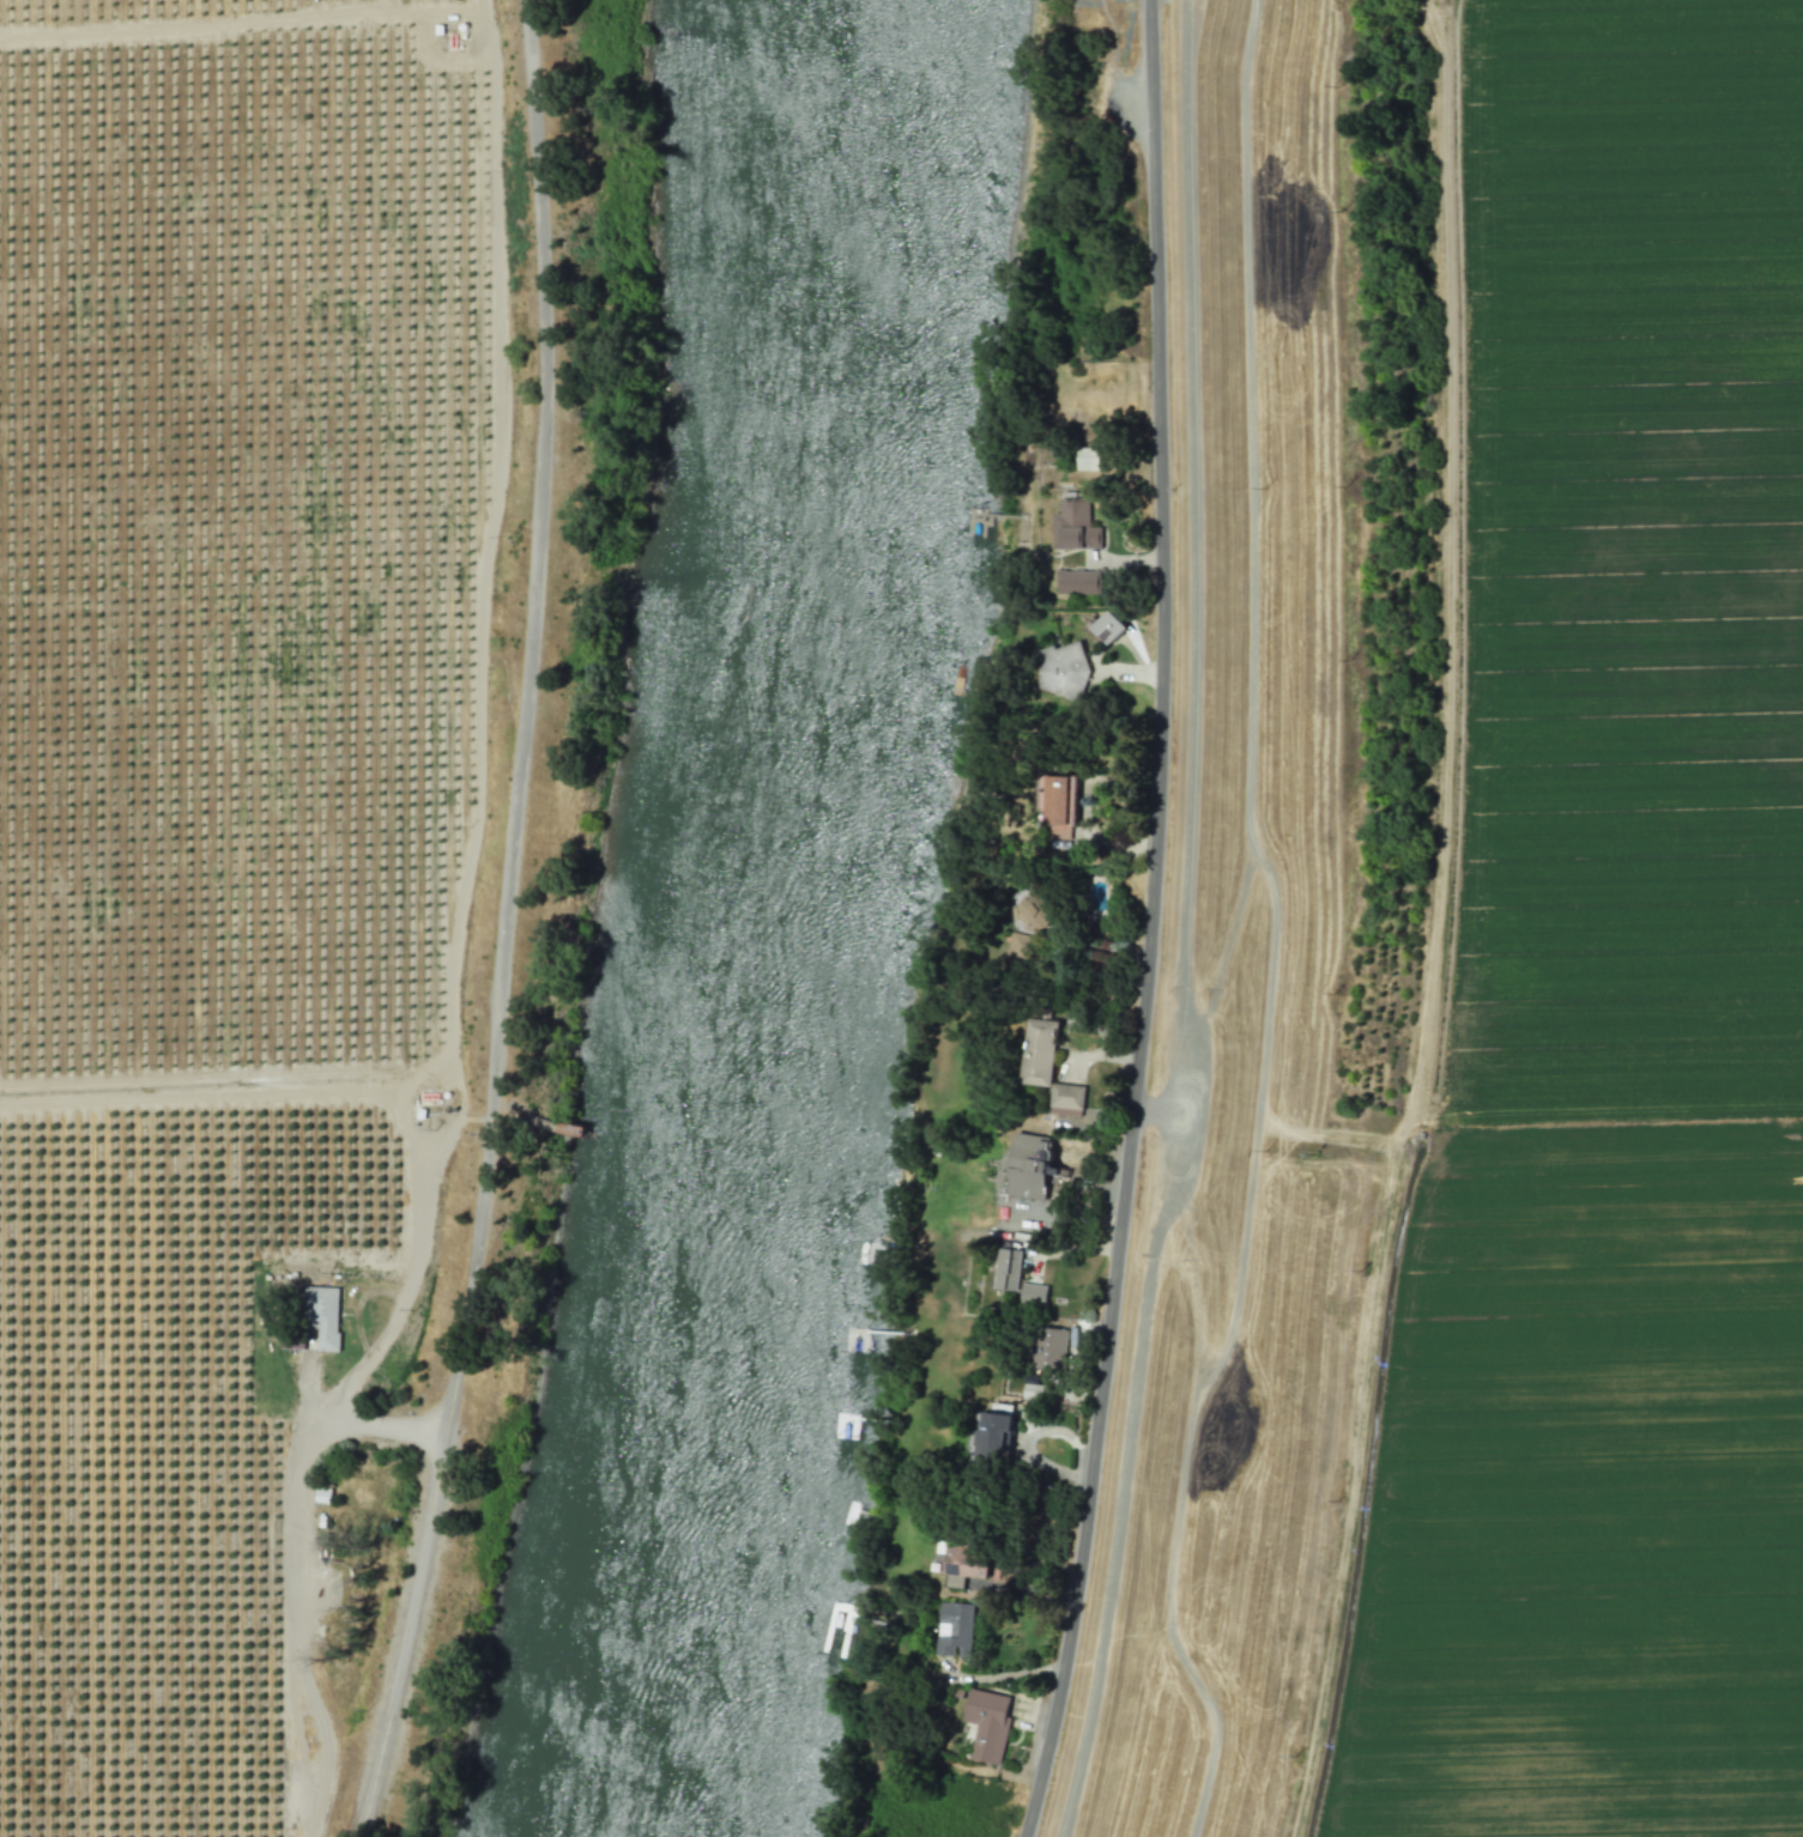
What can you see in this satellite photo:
building: (1087, 457)
building: (1075, 526)
building: (1078, 581)
building: (1106, 626)
building: (1061, 668)
road: (478, 740)
building: (1057, 804)
crop: (256, 865)
river: (770, 919)
road: (1162, 922)
road: (515, 924)
building: (1016, 945)
building: (1037, 1050)
building: (1066, 1098)
building: (1029, 1165)
building: (1006, 1268)
building: (1031, 1292)
building: (322, 1314)
building: (1034, 1390)
road: (373, 1424)
building: (991, 1436)
building: (960, 1562)
building: (955, 1629)
building: (987, 1723)

